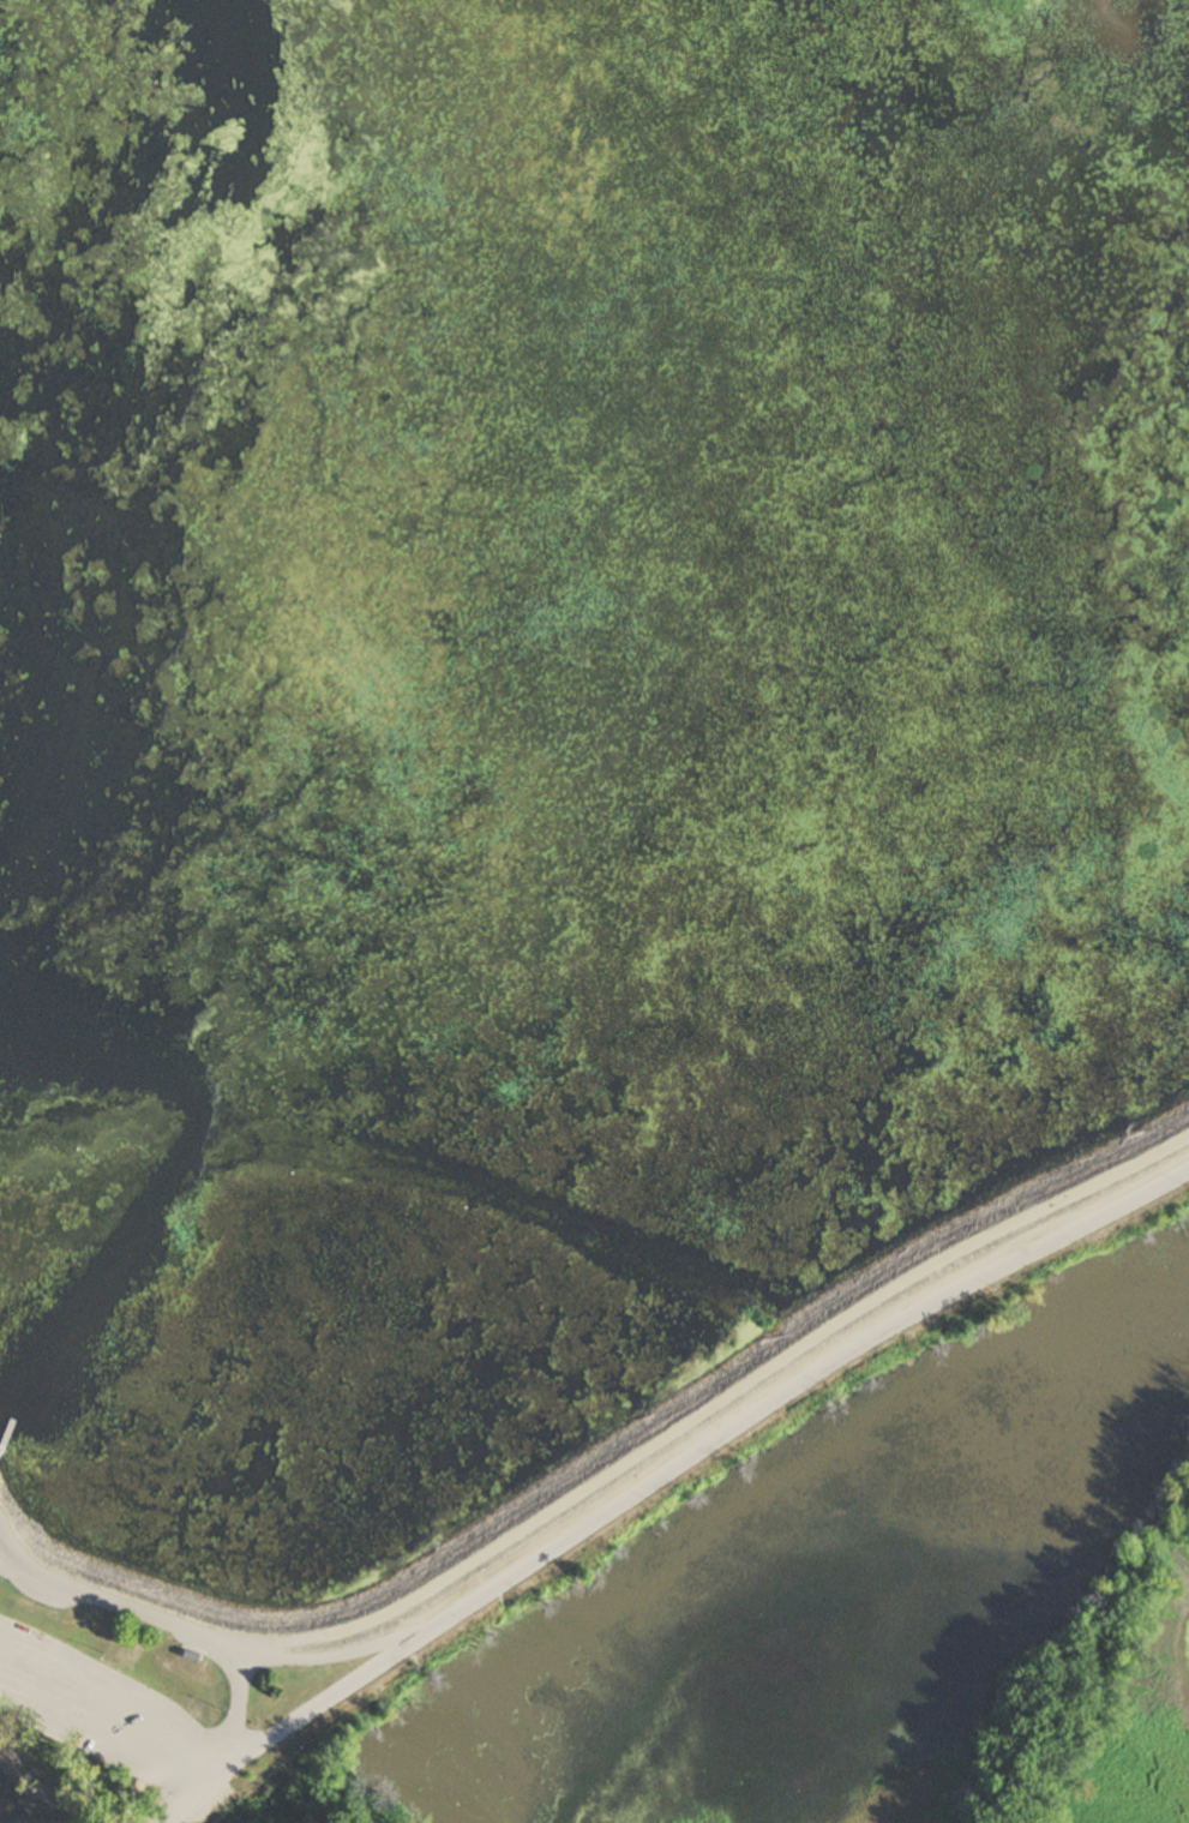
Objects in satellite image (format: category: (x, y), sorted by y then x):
road: (719, 1404)
road: (691, 1453)
park: (488, 1541)
road: (19, 1558)
road: (200, 1635)
road: (110, 1702)
road: (233, 1714)
parking lot: (121, 1741)
road: (188, 1795)
road: (229, 1795)

